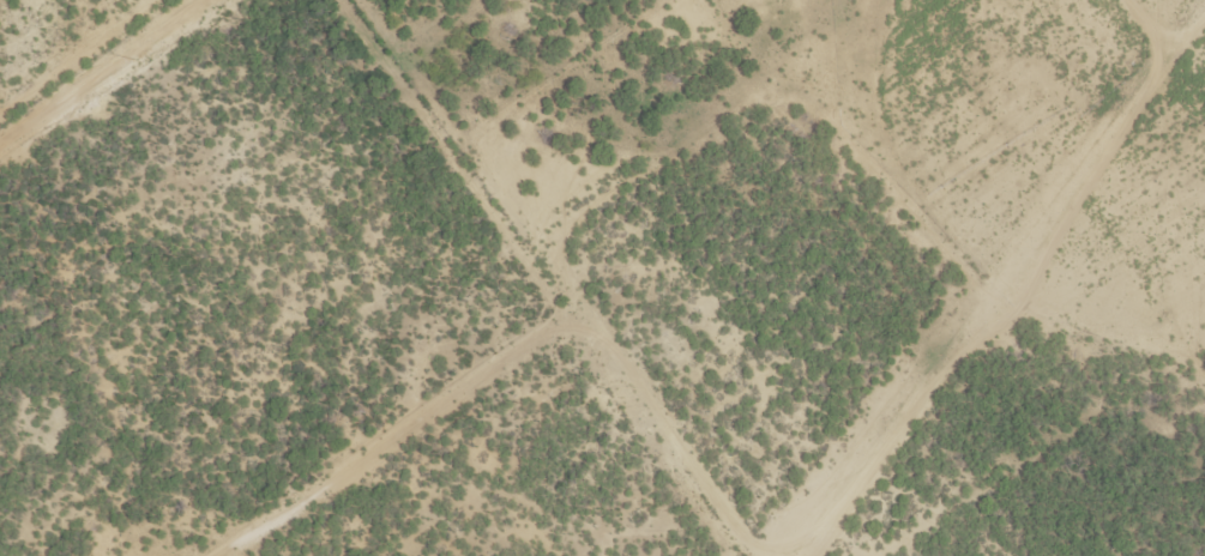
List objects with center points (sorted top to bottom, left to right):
building: (577, 16)
road: (98, 71)

